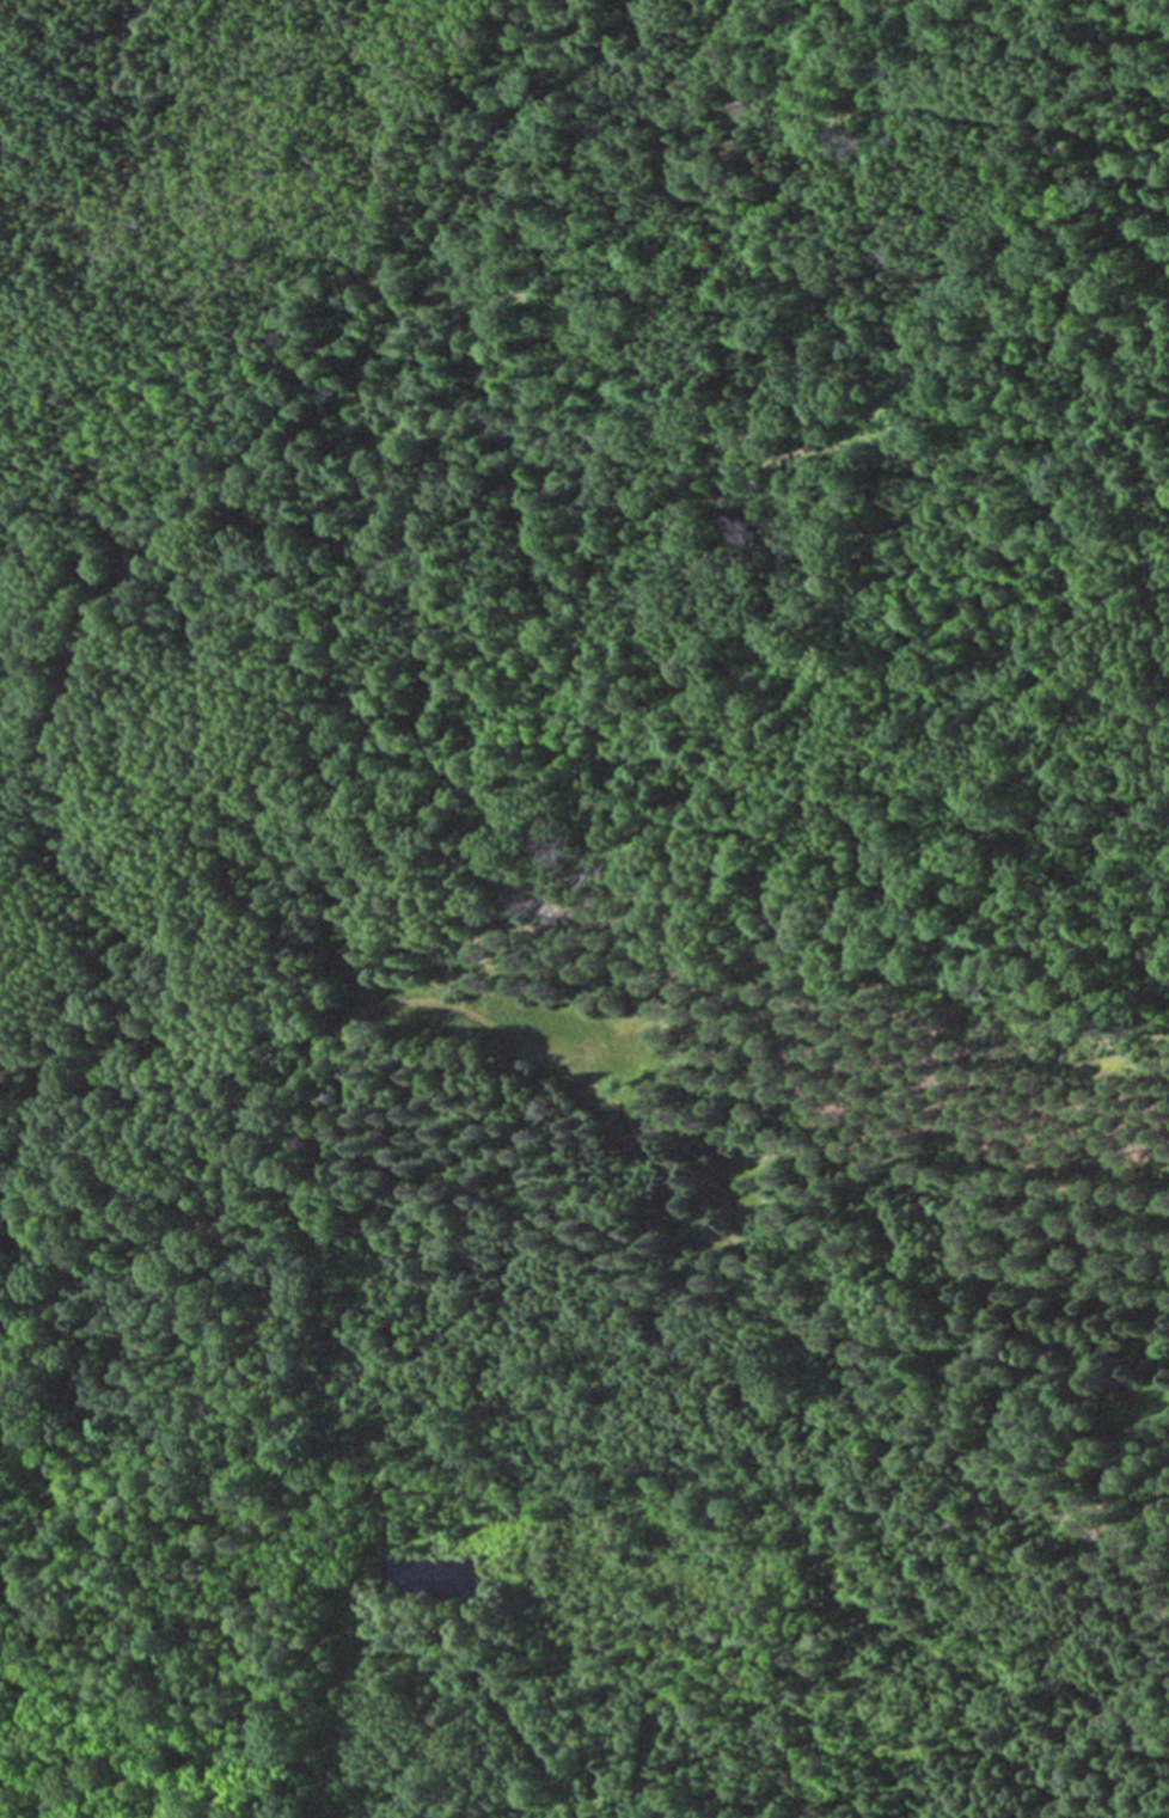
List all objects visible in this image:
road: (323, 356)
road: (812, 1312)

